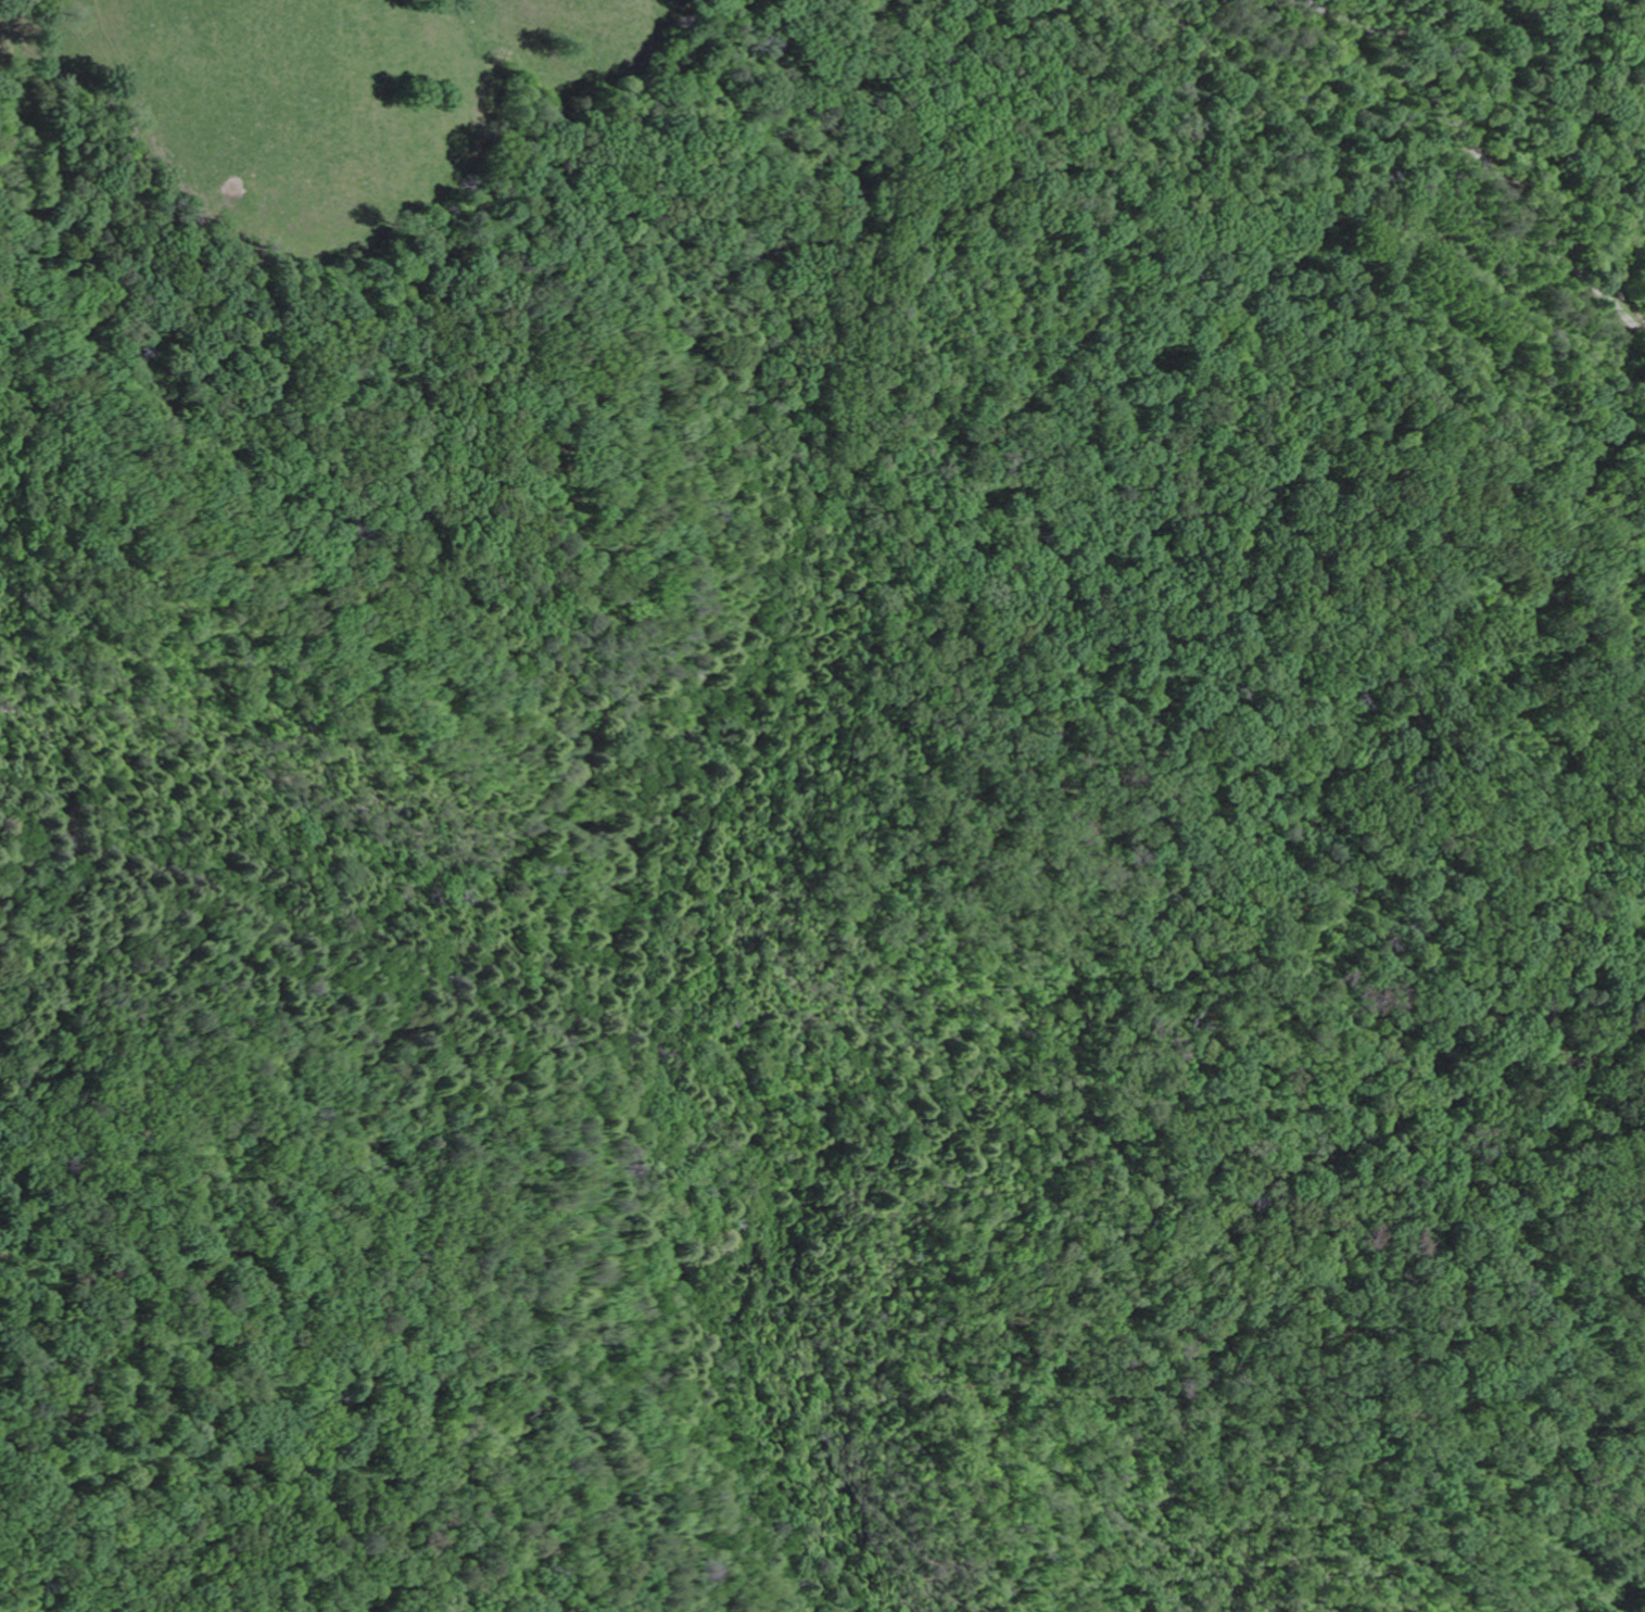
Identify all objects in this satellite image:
road: (1481, 150)

